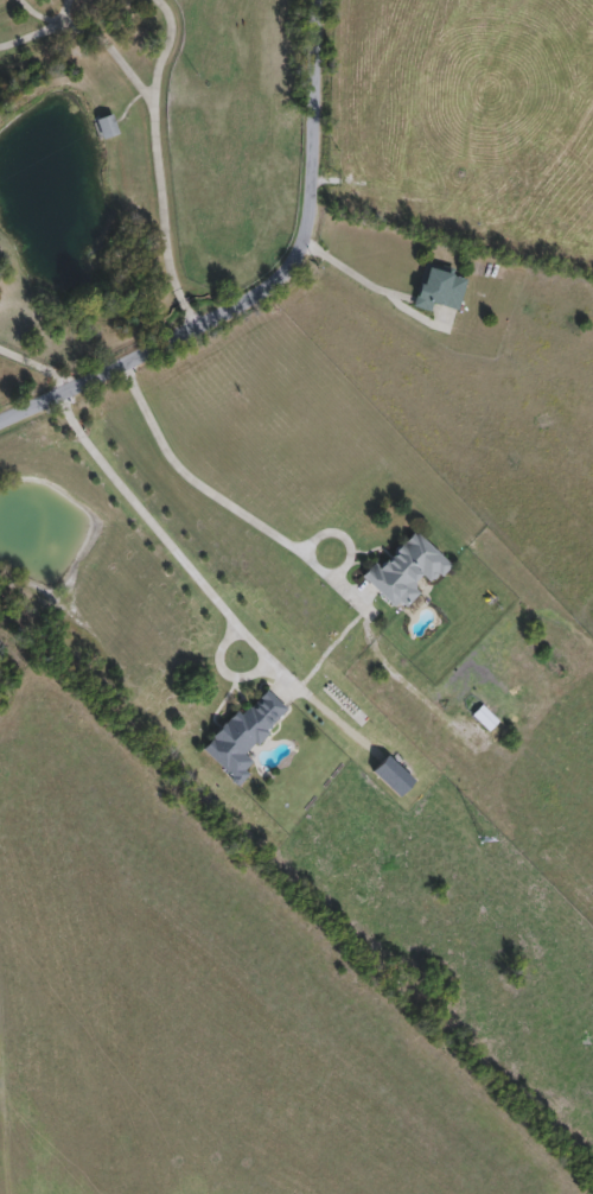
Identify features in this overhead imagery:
road: (34, 31)
road: (101, 50)
road: (159, 50)
building: (108, 128)
road: (154, 217)
road: (353, 274)
road: (267, 285)
building: (441, 291)
road: (33, 370)
road: (195, 489)
building: (408, 571)
road: (185, 574)
building: (246, 736)
building: (394, 779)

